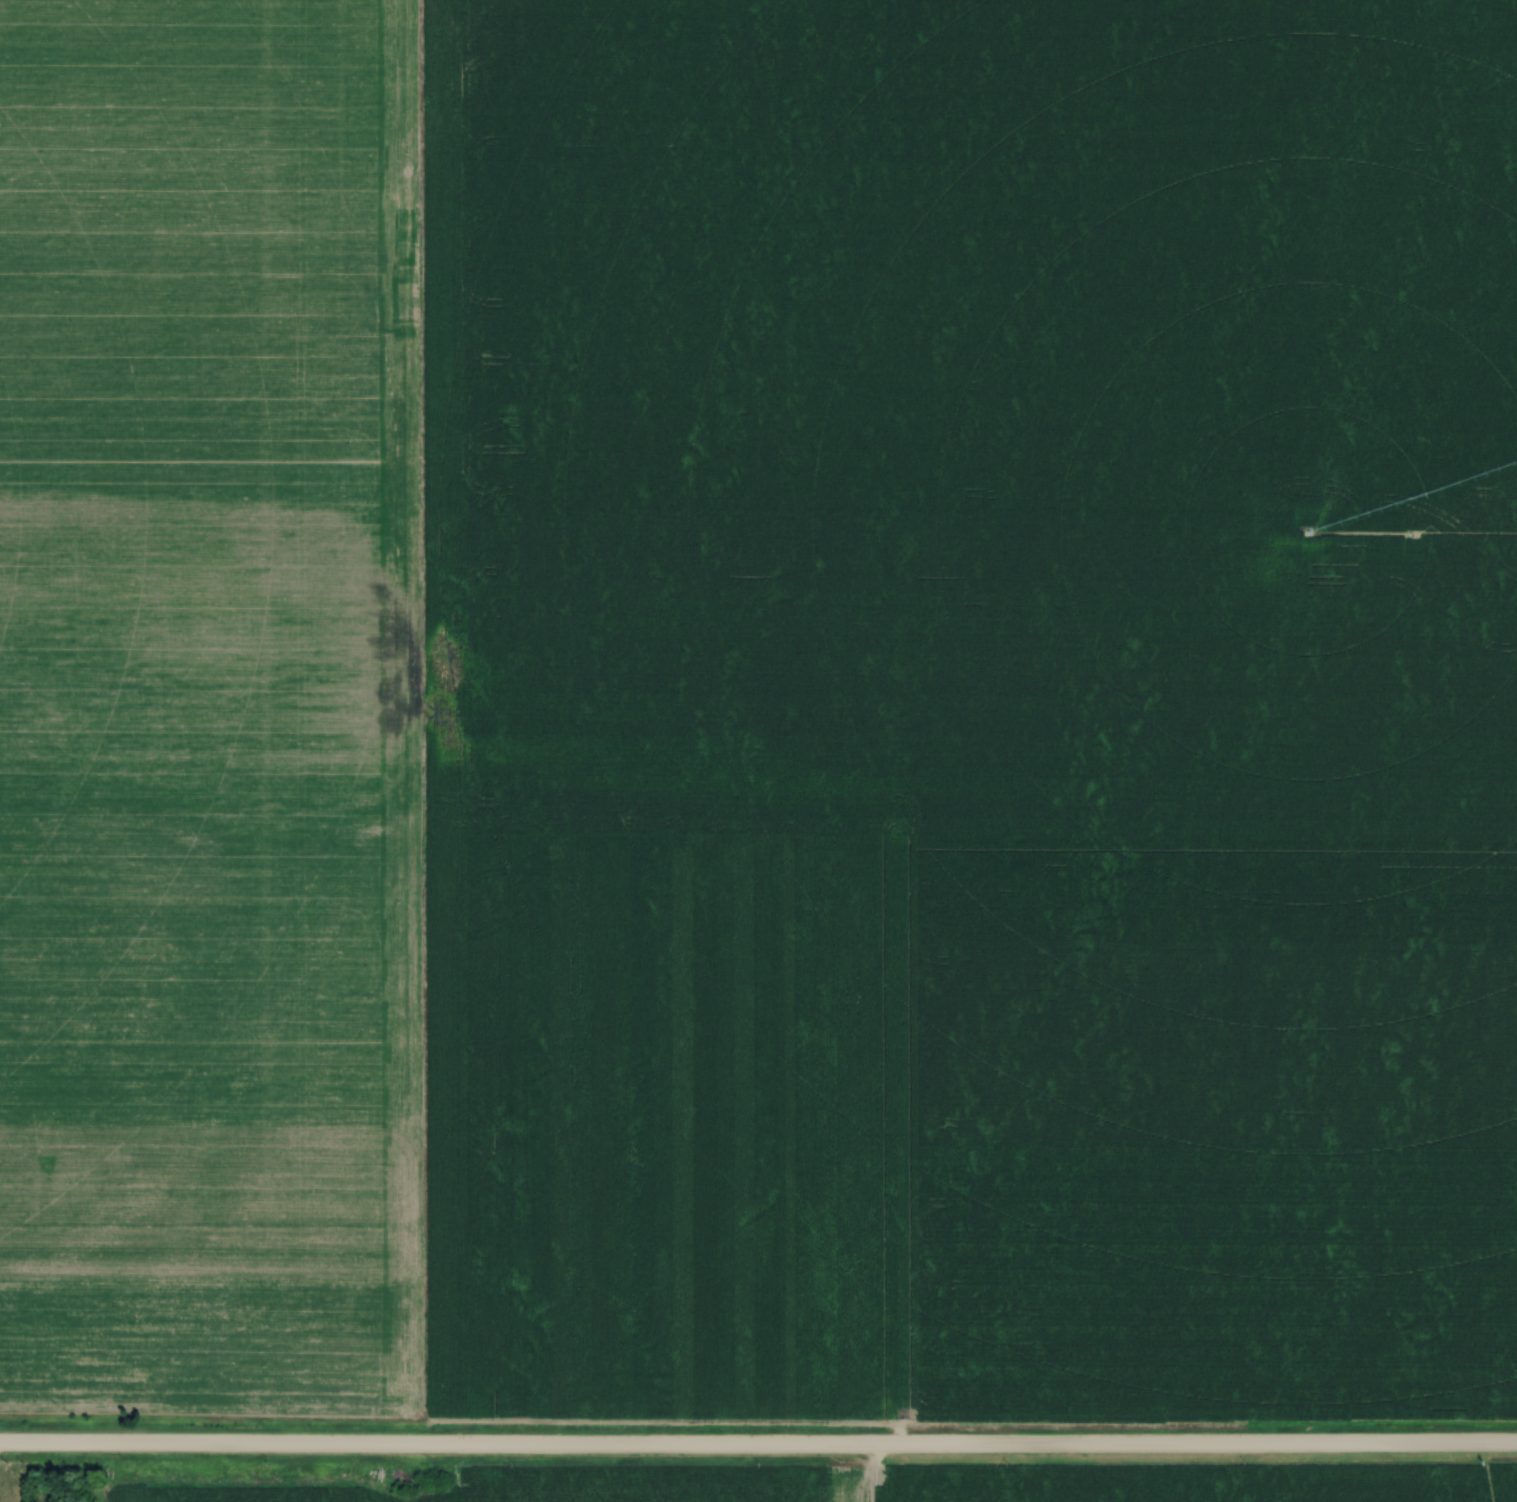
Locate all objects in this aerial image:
road: (758, 1448)

